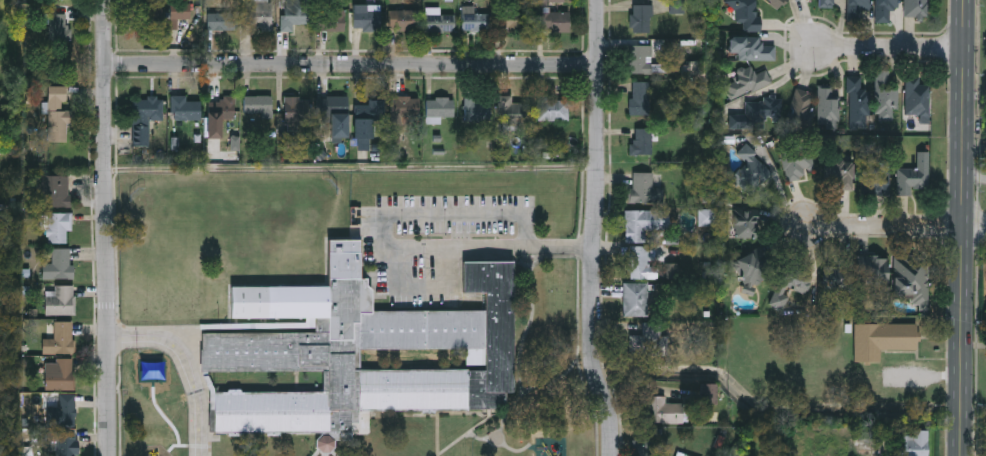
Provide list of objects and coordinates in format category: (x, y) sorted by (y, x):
building: (794, 0)
building: (556, 1)
building: (775, 3)
building: (825, 3)
building: (916, 7)
building: (856, 9)
building: (884, 10)
building: (180, 13)
building: (746, 13)
building: (259, 15)
building: (150, 16)
building: (292, 16)
building: (641, 18)
building: (331, 19)
building: (367, 19)
building: (404, 20)
building: (475, 20)
building: (515, 20)
building: (553, 20)
building: (222, 21)
building: (439, 23)
building: (57, 26)
building: (751, 47)
road: (891, 48)
building: (641, 59)
road: (351, 65)
building: (747, 81)
building: (639, 98)
building: (916, 100)
building: (858, 101)
building: (886, 102)
building: (258, 105)
building: (827, 105)
building: (801, 106)
building: (331, 107)
building: (185, 108)
building: (221, 108)
building: (439, 109)
building: (553, 109)
building: (296, 110)
building: (405, 110)
building: (476, 110)
building: (512, 111)
building: (757, 113)
building: (57, 114)
building: (144, 117)
building: (367, 118)
building: (642, 141)
road: (976, 148)
building: (797, 163)
building: (751, 170)
building: (838, 174)
building: (914, 175)
road: (976, 175)
building: (875, 182)
building: (645, 189)
building: (53, 191)
building: (644, 223)
building: (746, 223)
road: (885, 226)
road: (976, 226)
building: (57, 227)
road: (106, 228)
road: (965, 228)
road: (595, 229)
road: (394, 247)
building: (642, 262)
building: (62, 263)
building: (750, 269)
building: (873, 269)
building: (839, 276)
building: (910, 276)
building: (179, 283)
building: (789, 291)
building: (636, 299)
building: (60, 300)
building: (179, 310)
building: (148, 312)
building: (60, 338)
building: (357, 340)
building: (647, 340)
building: (882, 340)
building: (180, 349)
building: (149, 352)
road: (189, 366)
building: (59, 375)
building: (187, 408)
building: (156, 410)
building: (664, 410)
building: (65, 411)
building: (325, 441)
building: (916, 443)
building: (67, 444)
building: (682, 454)

